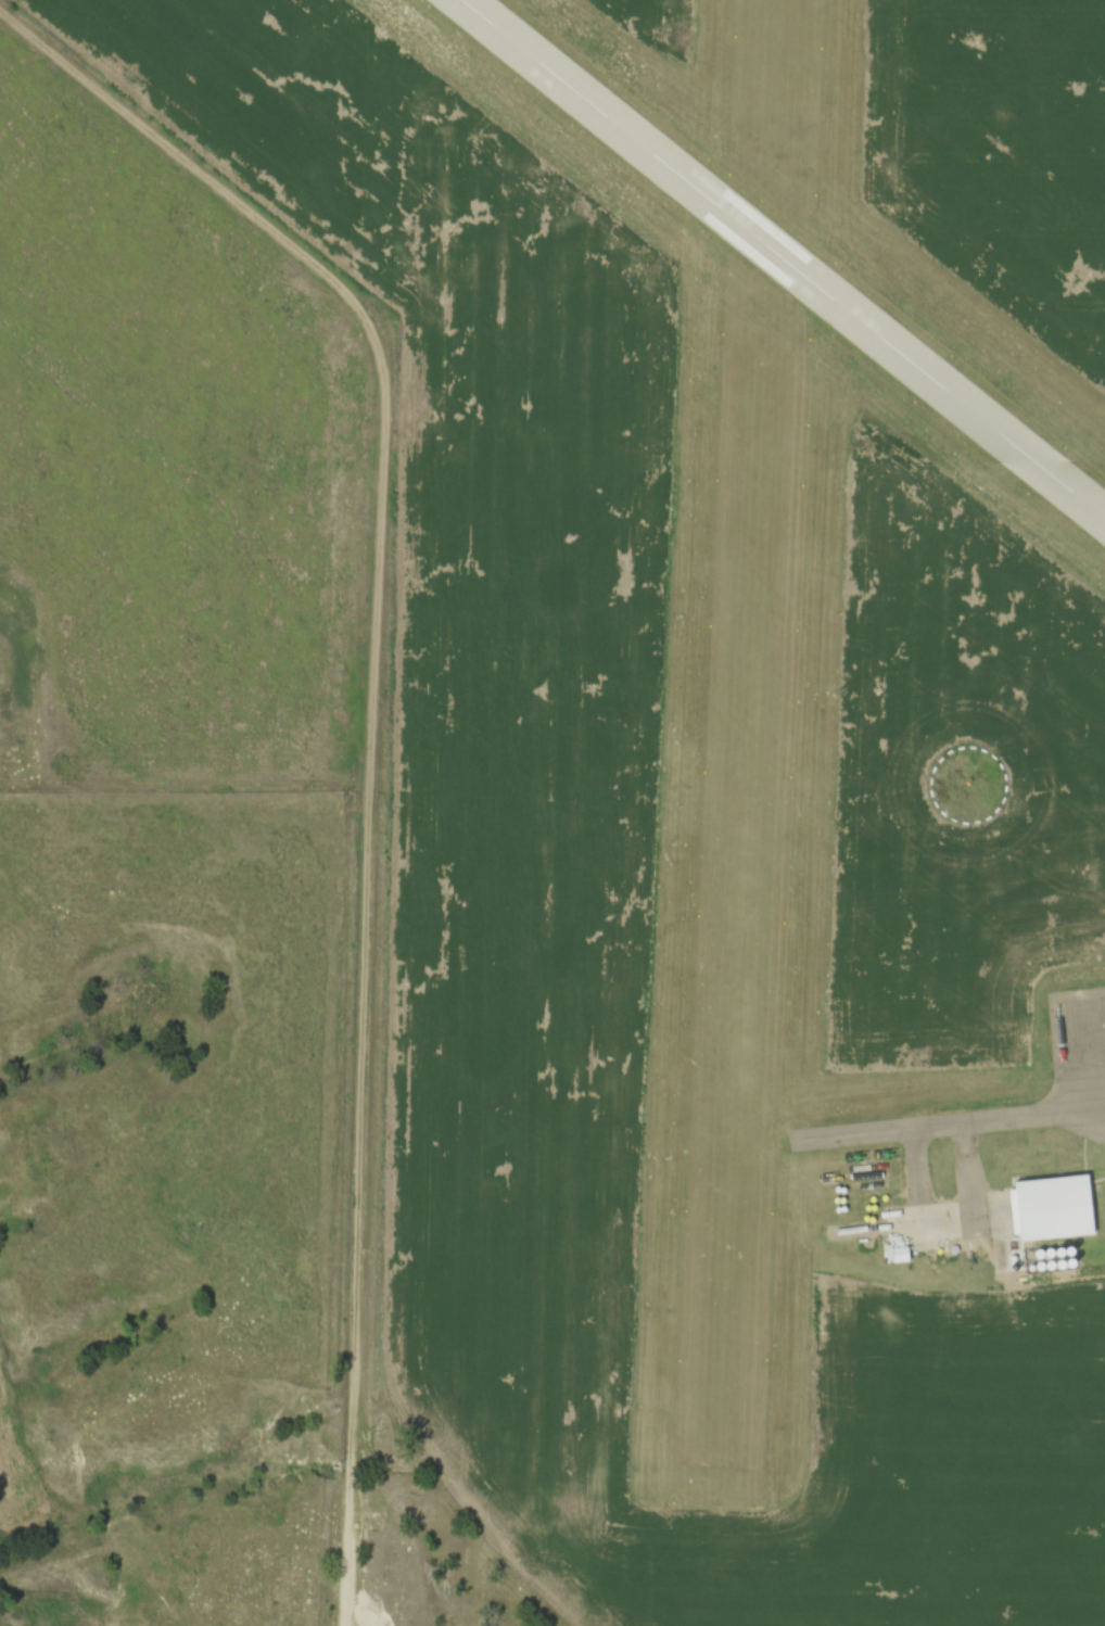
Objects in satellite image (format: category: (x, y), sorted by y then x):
airport runway: (782, 259)
airport runway: (748, 749)
airport: (717, 779)
road: (365, 971)
airport taxiway: (917, 1129)
building: (1066, 1210)
building: (899, 1255)
building: (1037, 1504)

